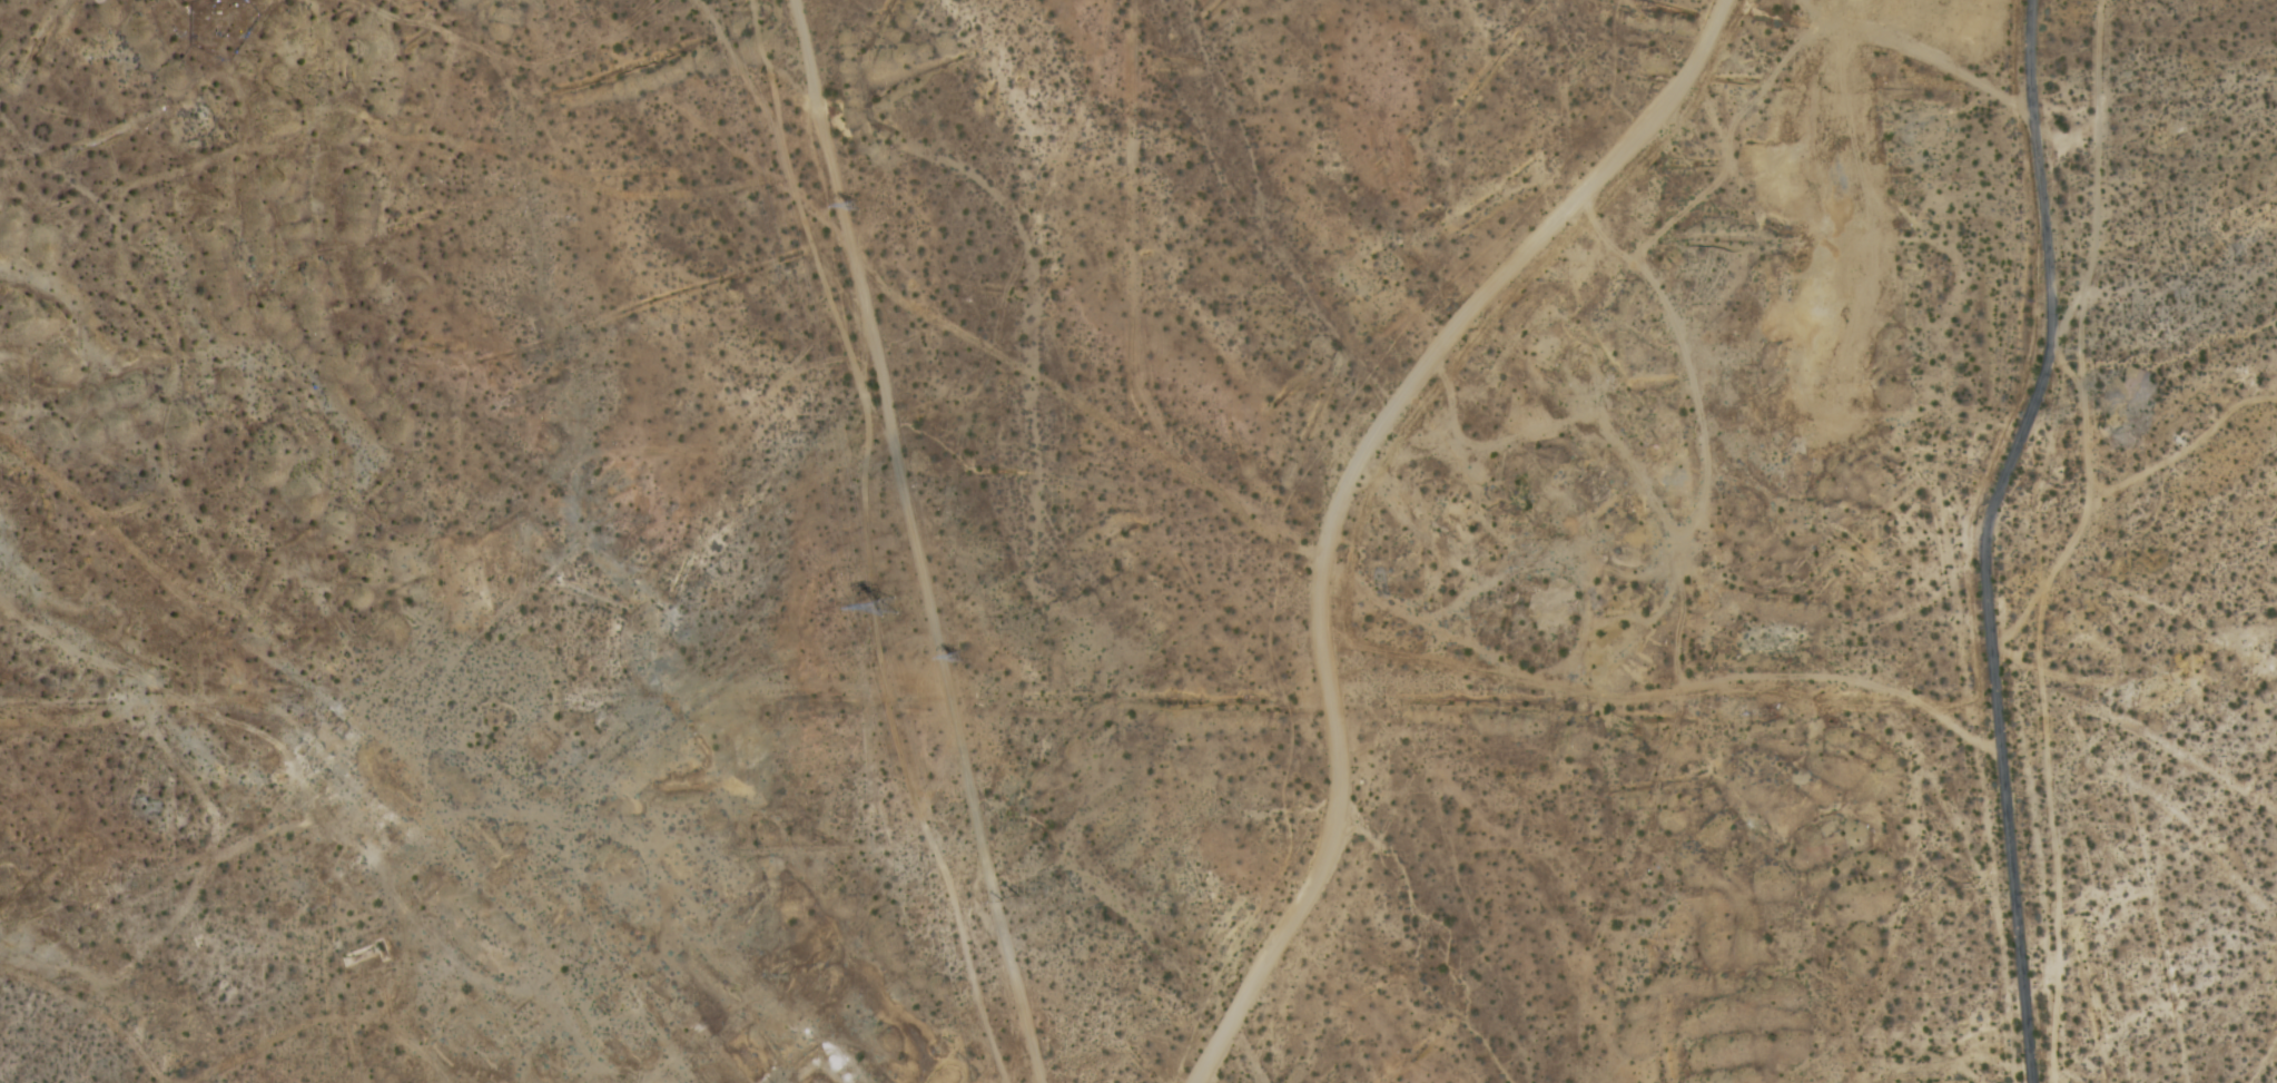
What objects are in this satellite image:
power tower: (862, 213)
road: (1342, 493)
road: (1982, 536)
road: (911, 542)
crop: (2069, 575)
power tower: (893, 612)
power tower: (974, 668)
power tower: (1023, 905)

